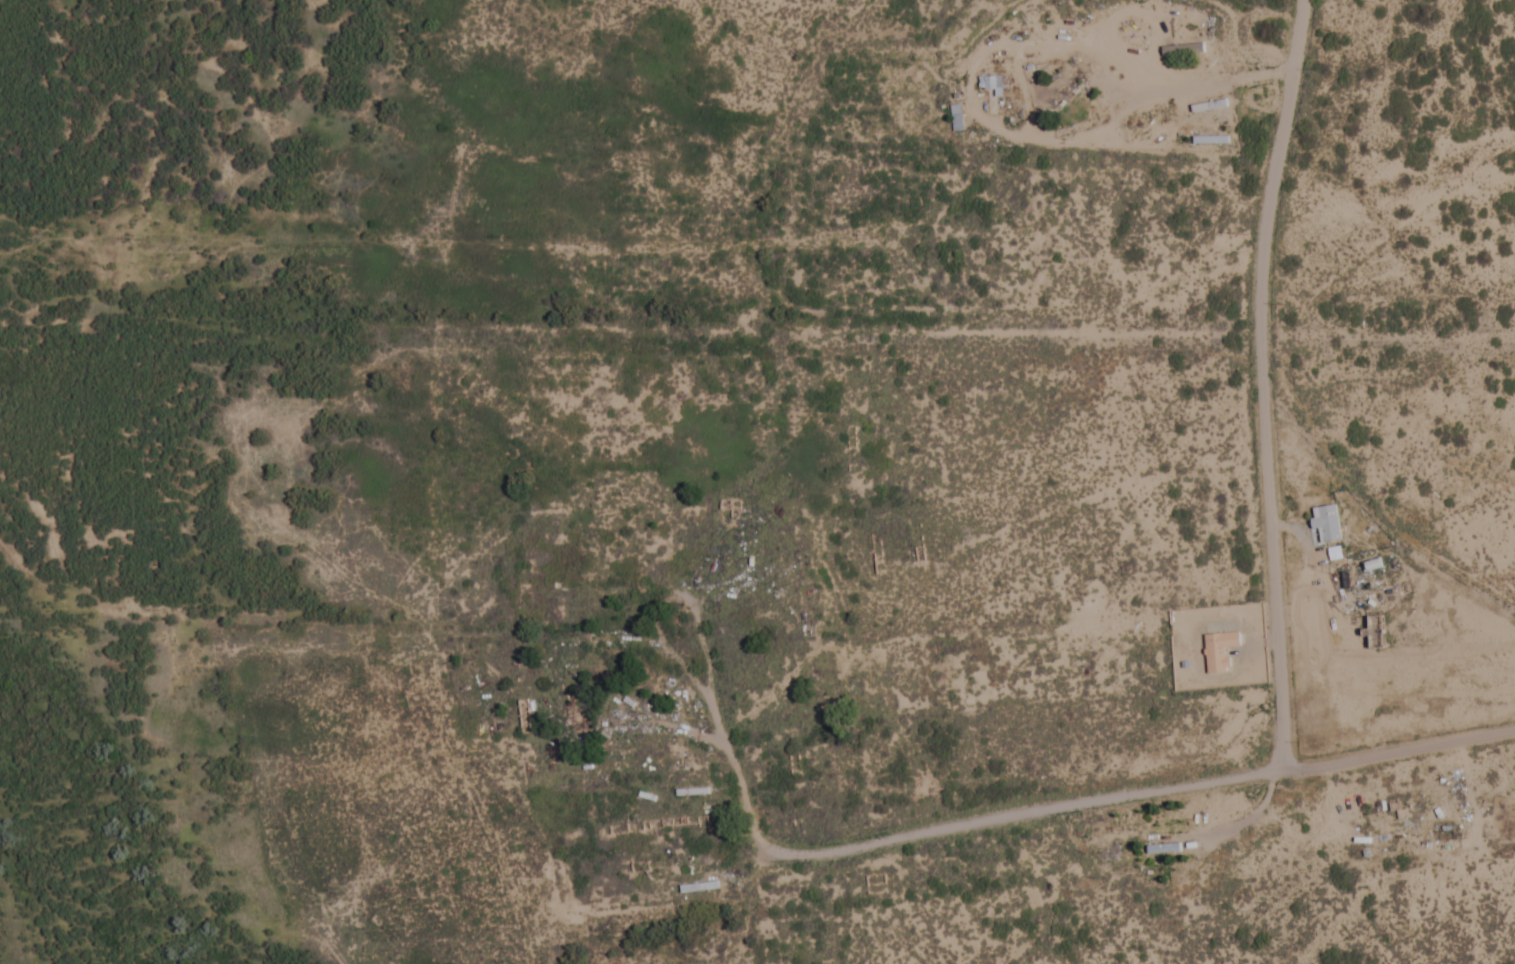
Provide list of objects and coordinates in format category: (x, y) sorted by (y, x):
building: (1188, 47)
building: (991, 85)
building: (1060, 93)
building: (955, 118)
building: (1210, 140)
road: (1265, 200)
building: (1326, 524)
road: (1272, 651)
building: (1219, 652)
building: (865, 690)
road: (726, 842)
building: (1163, 850)
building: (698, 888)

